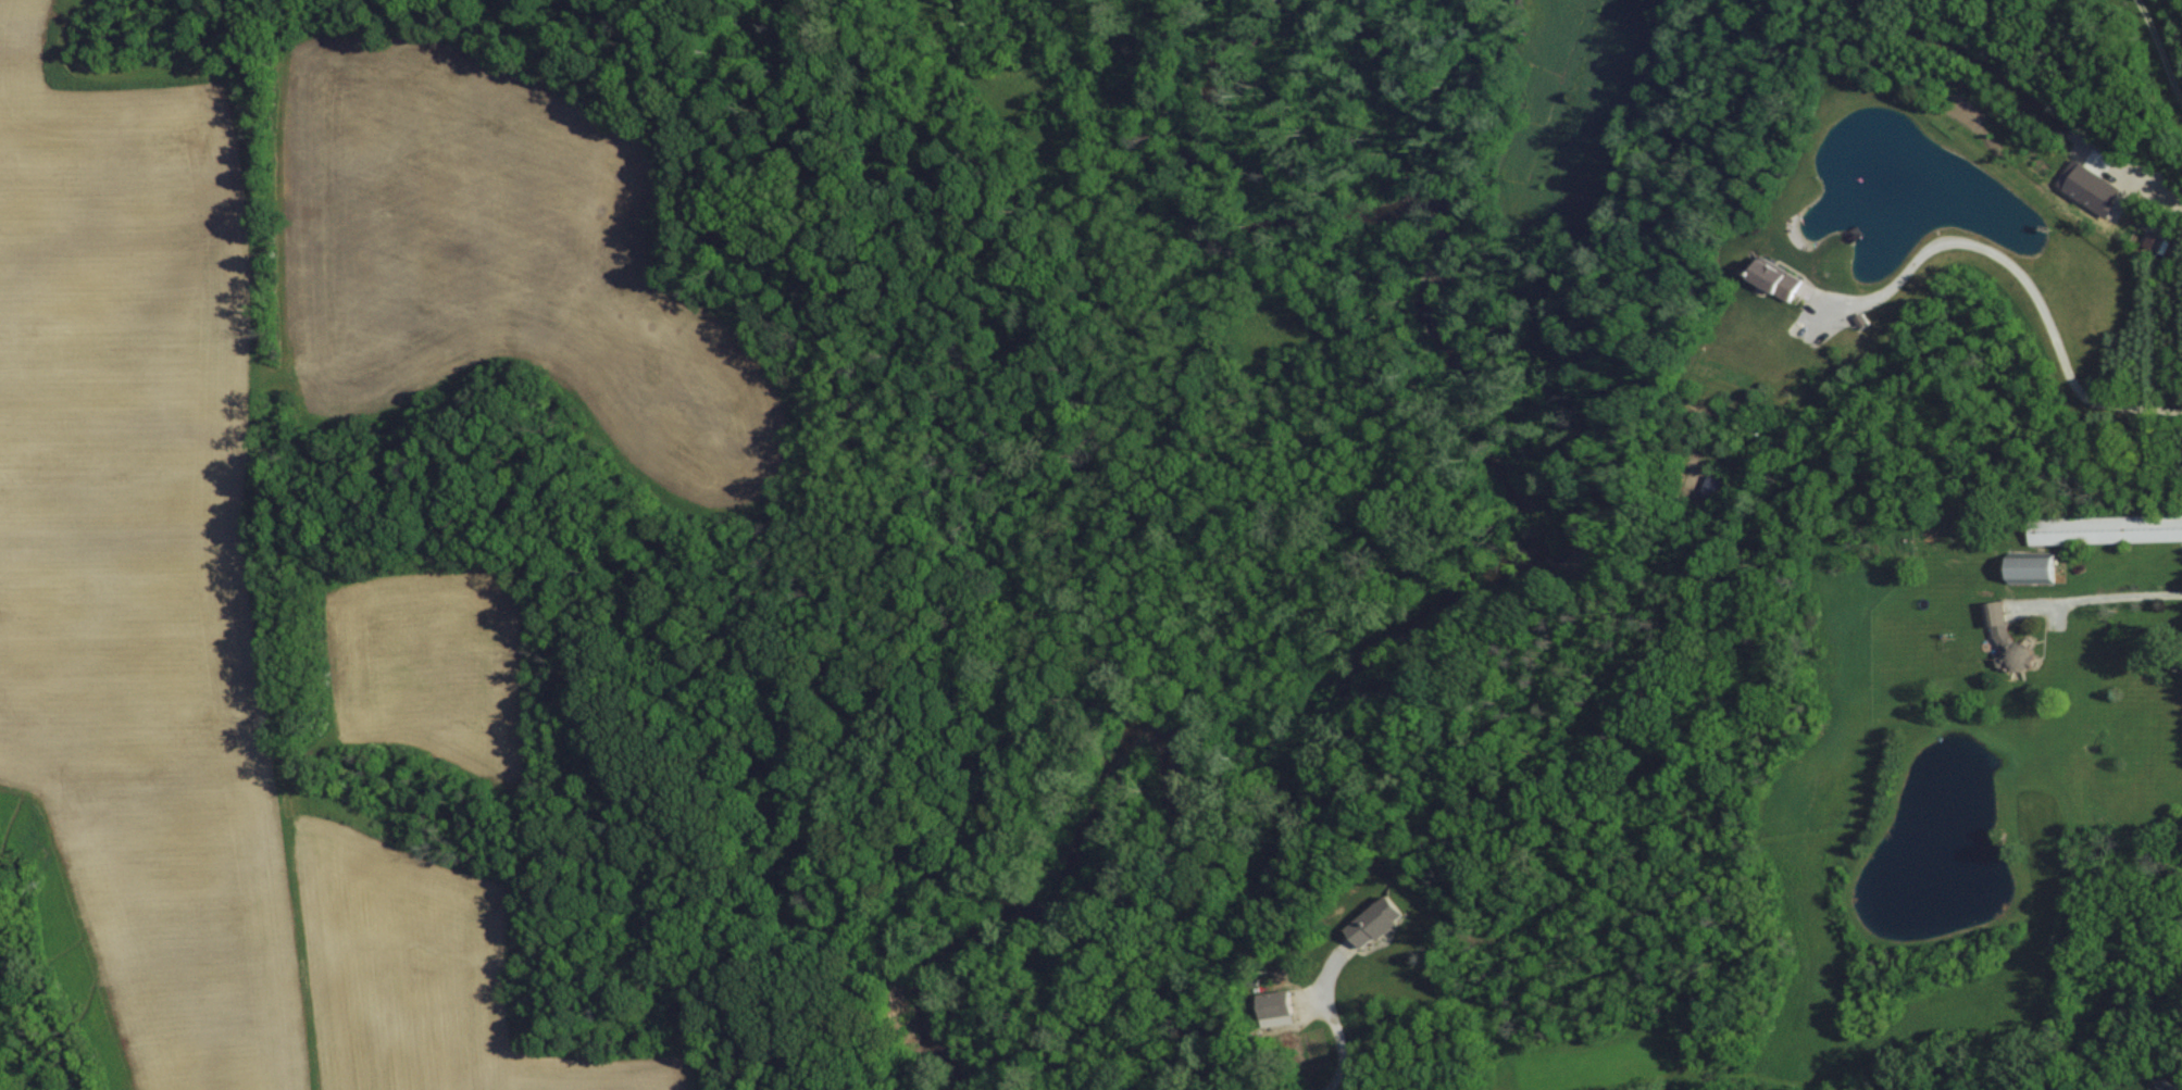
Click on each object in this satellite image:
road: (2158, 51)
road: (2013, 270)
building: (1781, 278)
building: (2105, 529)
building: (2041, 566)
road: (2098, 598)
building: (2017, 652)
building: (1379, 920)
road: (1329, 1016)
road: (1239, 1086)

